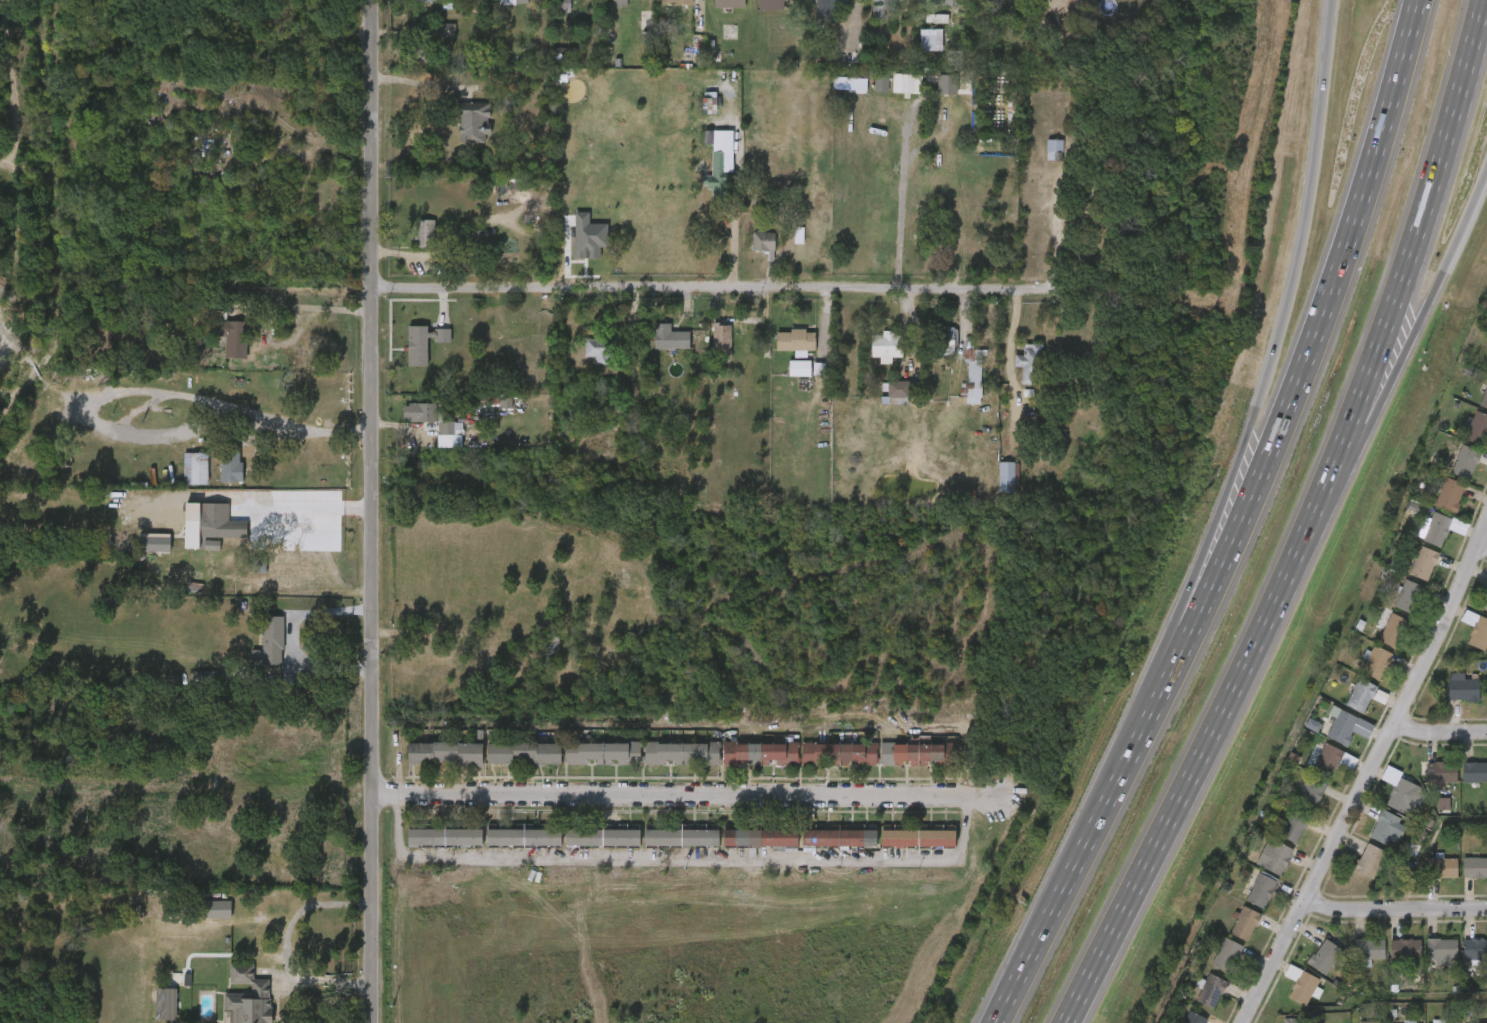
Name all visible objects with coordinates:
building: (427, 0)
building: (672, 0)
building: (887, 0)
building: (617, 2)
building: (942, 2)
building: (563, 3)
building: (728, 3)
building: (772, 4)
building: (974, 6)
building: (509, 7)
building: (1059, 7)
building: (929, 8)
building: (825, 10)
building: (877, 12)
building: (930, 38)
building: (432, 43)
building: (419, 45)
building: (917, 52)
building: (955, 58)
building: (692, 96)
building: (892, 96)
building: (932, 97)
building: (474, 120)
building: (460, 135)
building: (1054, 149)
building: (1039, 163)
road: (734, 184)
building: (705, 188)
road: (900, 205)
road: (1422, 210)
building: (1091, 212)
building: (426, 233)
road: (1060, 234)
building: (763, 241)
building: (411, 246)
building: (749, 256)
road: (1448, 256)
road: (1292, 275)
road: (733, 287)
road: (308, 307)
building: (231, 336)
building: (665, 337)
building: (945, 338)
building: (722, 340)
building: (793, 340)
road: (1298, 345)
building: (886, 346)
building: (600, 348)
building: (217, 349)
building: (654, 350)
building: (936, 351)
building: (708, 353)
building: (782, 354)
building: (408, 356)
building: (872, 359)
building: (585, 362)
building: (1030, 362)
building: (799, 368)
building: (973, 376)
building: (1014, 376)
building: (1483, 376)
road: (1379, 380)
building: (785, 381)
building: (958, 389)
road: (147, 390)
building: (899, 392)
building: (1484, 400)
building: (883, 401)
building: (420, 412)
building: (883, 413)
building: (404, 425)
building: (1477, 429)
building: (1464, 441)
building: (434, 447)
building: (1465, 463)
building: (231, 464)
building: (195, 468)
building: (1450, 475)
building: (1007, 477)
building: (216, 480)
building: (181, 481)
building: (991, 489)
building: (1449, 497)
building: (1434, 507)
road: (338, 508)
road: (341, 508)
road: (358, 508)
road: (371, 511)
building: (219, 522)
building: (191, 525)
building: (1436, 530)
building: (1422, 542)
road: (1482, 545)
building: (259, 564)
building: (1423, 564)
building: (291, 574)
building: (1408, 576)
building: (277, 589)
building: (1408, 597)
building: (1485, 607)
road: (1183, 609)
building: (1393, 609)
building: (1393, 631)
building: (1479, 634)
road: (293, 638)
building: (1378, 642)
building: (1466, 645)
building: (256, 655)
building: (1375, 663)
building: (1361, 675)
building: (1463, 688)
building: (1359, 696)
building: (1483, 699)
building: (1448, 701)
building: (1345, 708)
road: (1215, 723)
building: (1342, 728)
road: (1440, 732)
building: (1327, 740)
building: (443, 753)
building: (523, 753)
building: (603, 753)
building: (680, 753)
building: (760, 754)
building: (839, 754)
building: (917, 754)
building: (1327, 762)
building: (431, 765)
building: (509, 765)
building: (590, 765)
building: (667, 765)
building: (747, 765)
building: (824, 766)
building: (903, 766)
building: (1313, 771)
building: (1441, 773)
building: (1474, 773)
road: (1368, 774)
building: (1462, 784)
building: (1485, 784)
building: (1426, 785)
road: (684, 791)
building: (1310, 794)
building: (1294, 807)
building: (1388, 808)
building: (1294, 826)
building: (1387, 828)
building: (443, 837)
building: (522, 838)
building: (601, 838)
building: (681, 838)
building: (763, 838)
building: (838, 838)
building: (916, 838)
building: (1278, 840)
building: (1373, 840)
building: (508, 848)
building: (668, 848)
building: (903, 848)
building: (430, 849)
building: (590, 849)
building: (744, 849)
building: (826, 849)
road: (1077, 851)
building: (1273, 857)
road: (685, 861)
building: (1368, 861)
building: (1442, 868)
building: (1475, 868)
building: (1259, 869)
building: (1356, 874)
building: (1427, 880)
building: (1463, 880)
building: (1485, 886)
building: (1260, 891)
building: (1246, 903)
road: (1395, 909)
building: (204, 921)
building: (1244, 923)
building: (1230, 936)
building: (1368, 949)
building: (1475, 949)
building: (1404, 950)
building: (1441, 950)
building: (1225, 955)
building: (1324, 957)
building: (1485, 960)
building: (1353, 961)
building: (1390, 961)
building: (1461, 961)
building: (1427, 963)
building: (1211, 967)
building: (1309, 968)
road: (325, 981)
building: (1303, 988)
building: (1209, 990)
building: (246, 1000)
building: (1195, 1003)
building: (151, 1011)
building: (1194, 1018)
building: (1290, 1021)
building: (1369, 1022)

